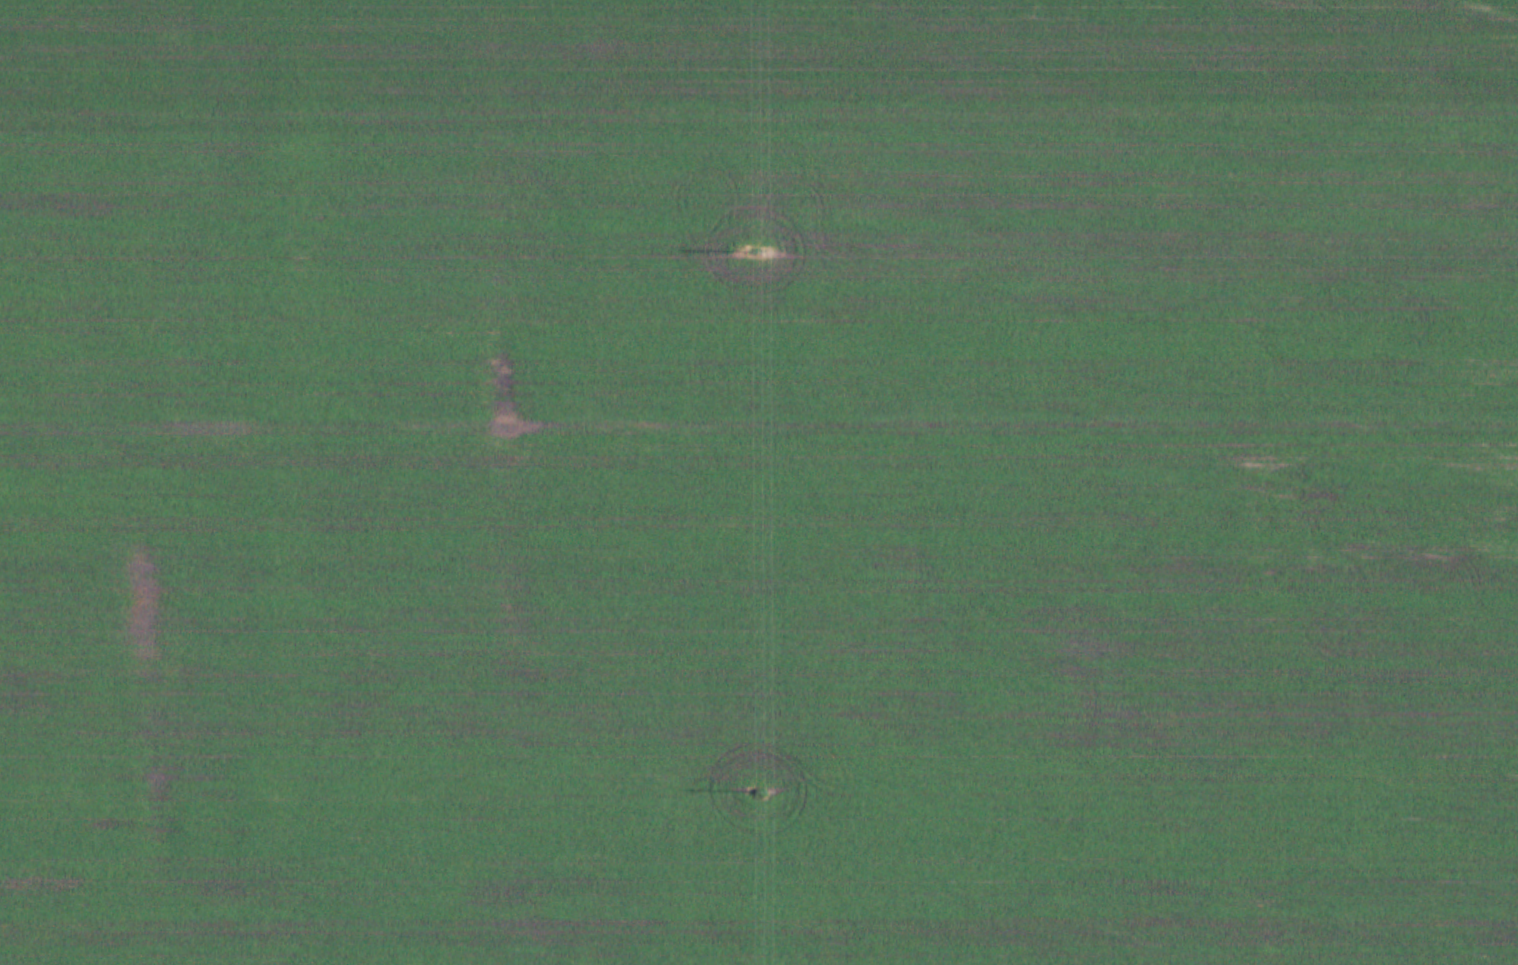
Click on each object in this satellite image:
power tower: (749, 251)
power tower: (753, 791)

